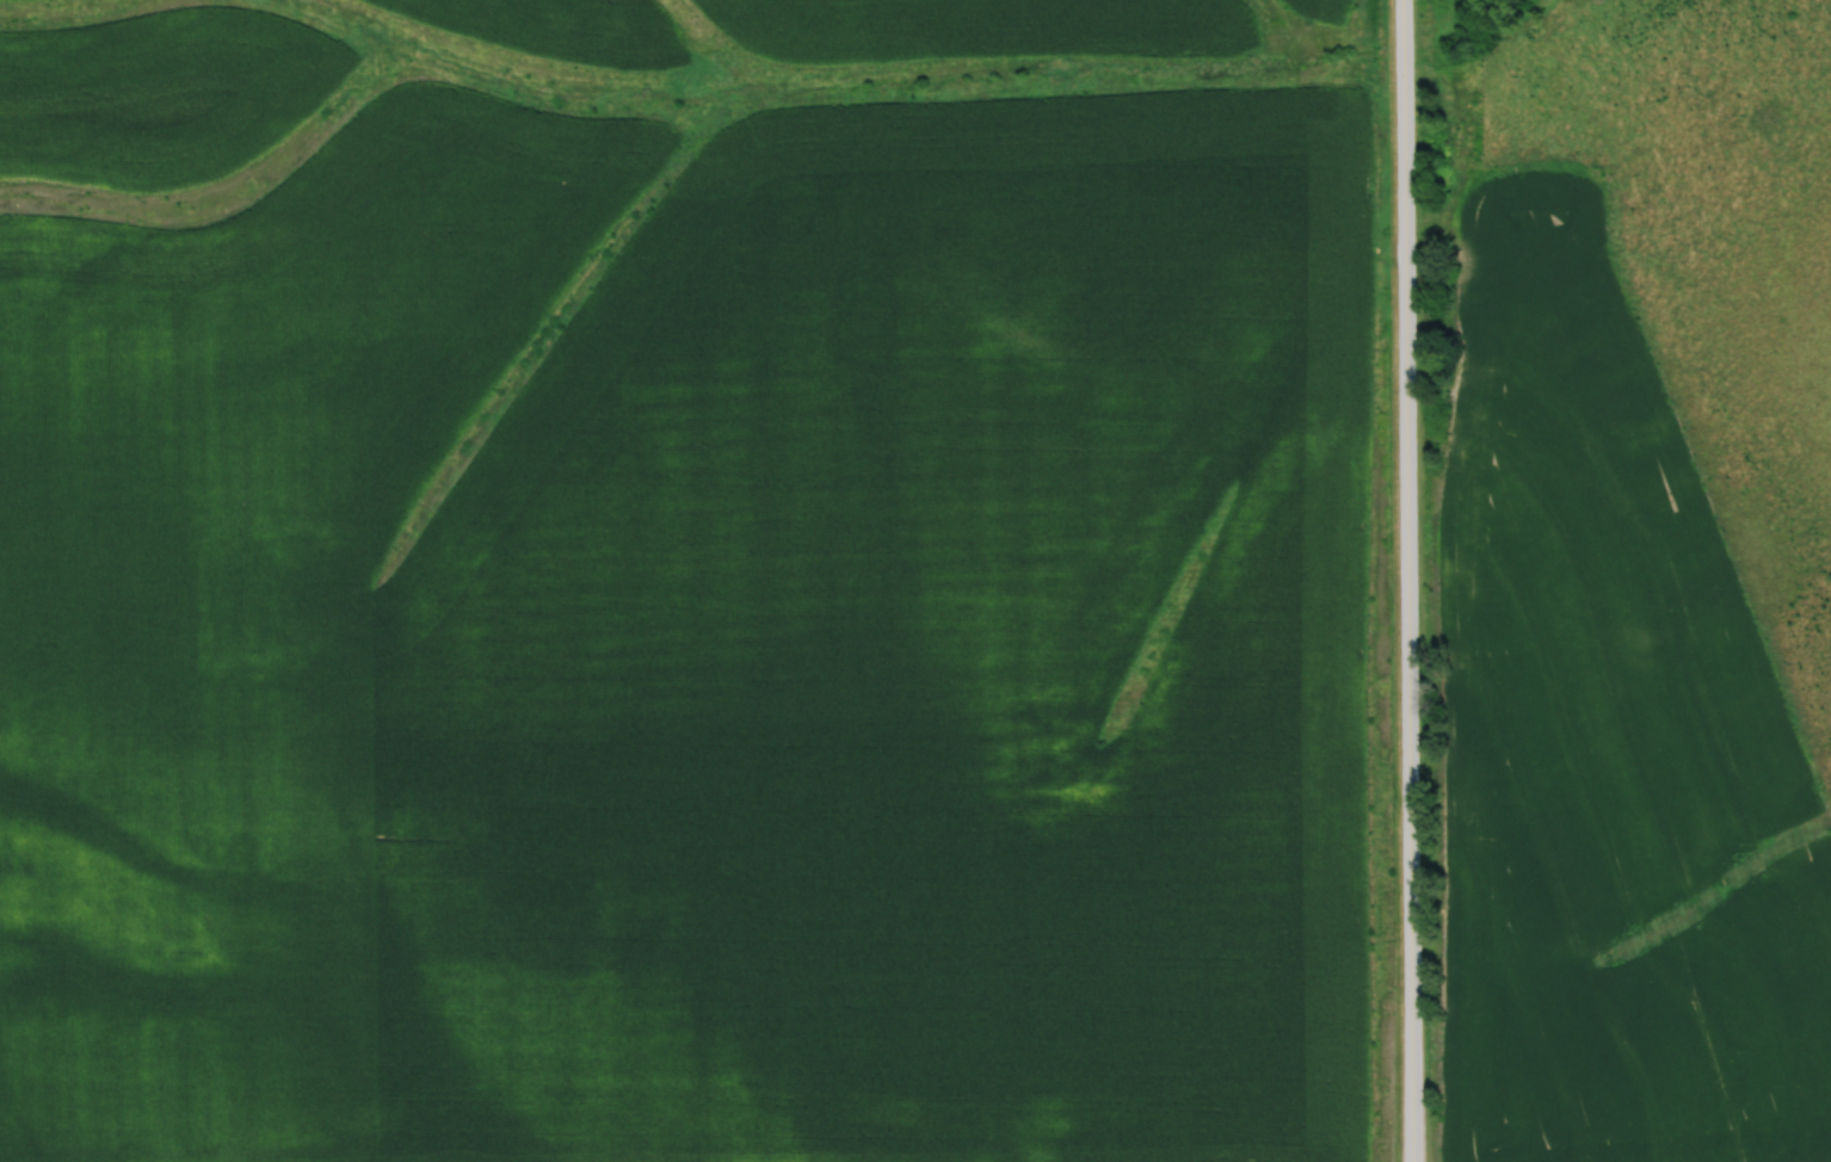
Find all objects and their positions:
park: (1702, 255)
road: (1407, 580)

